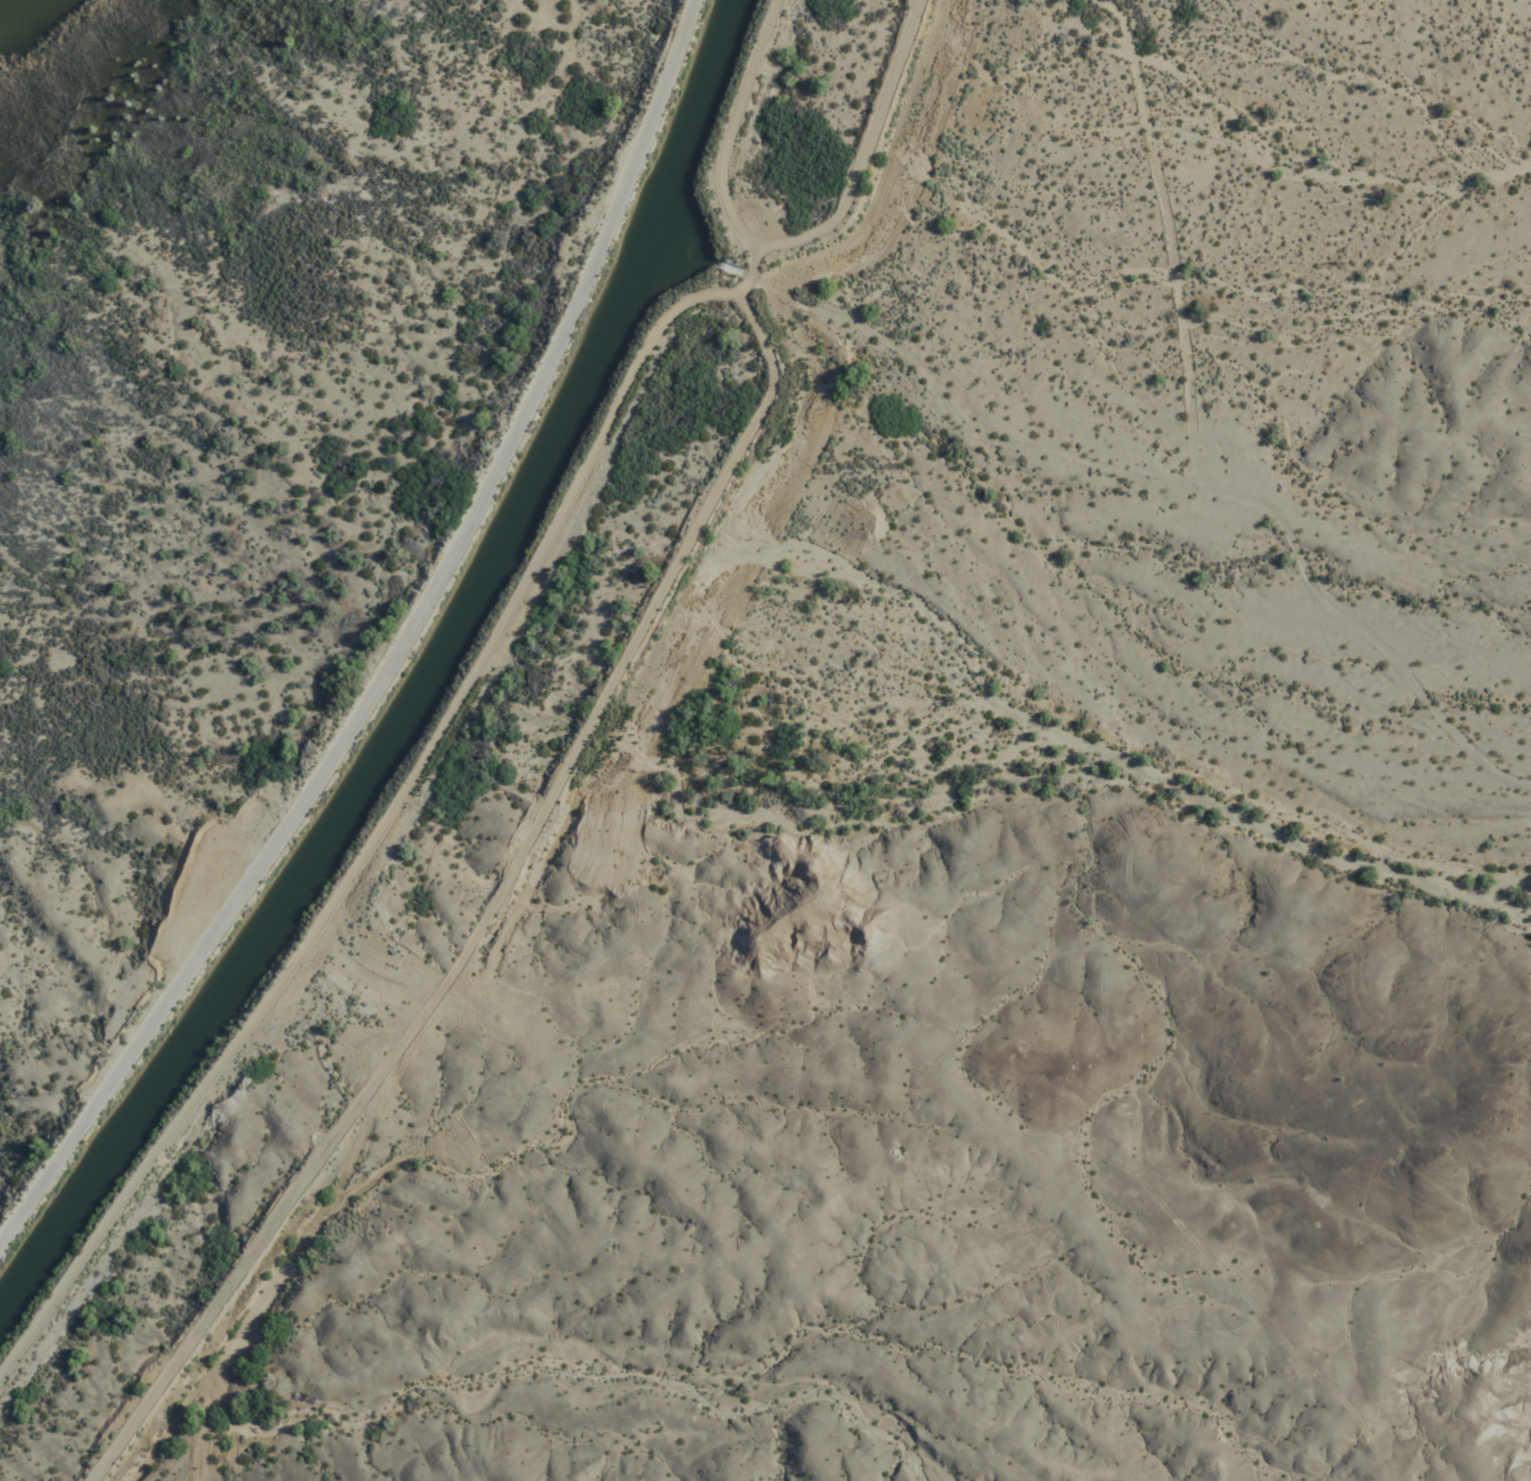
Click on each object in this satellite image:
road: (399, 651)
river: (427, 688)

